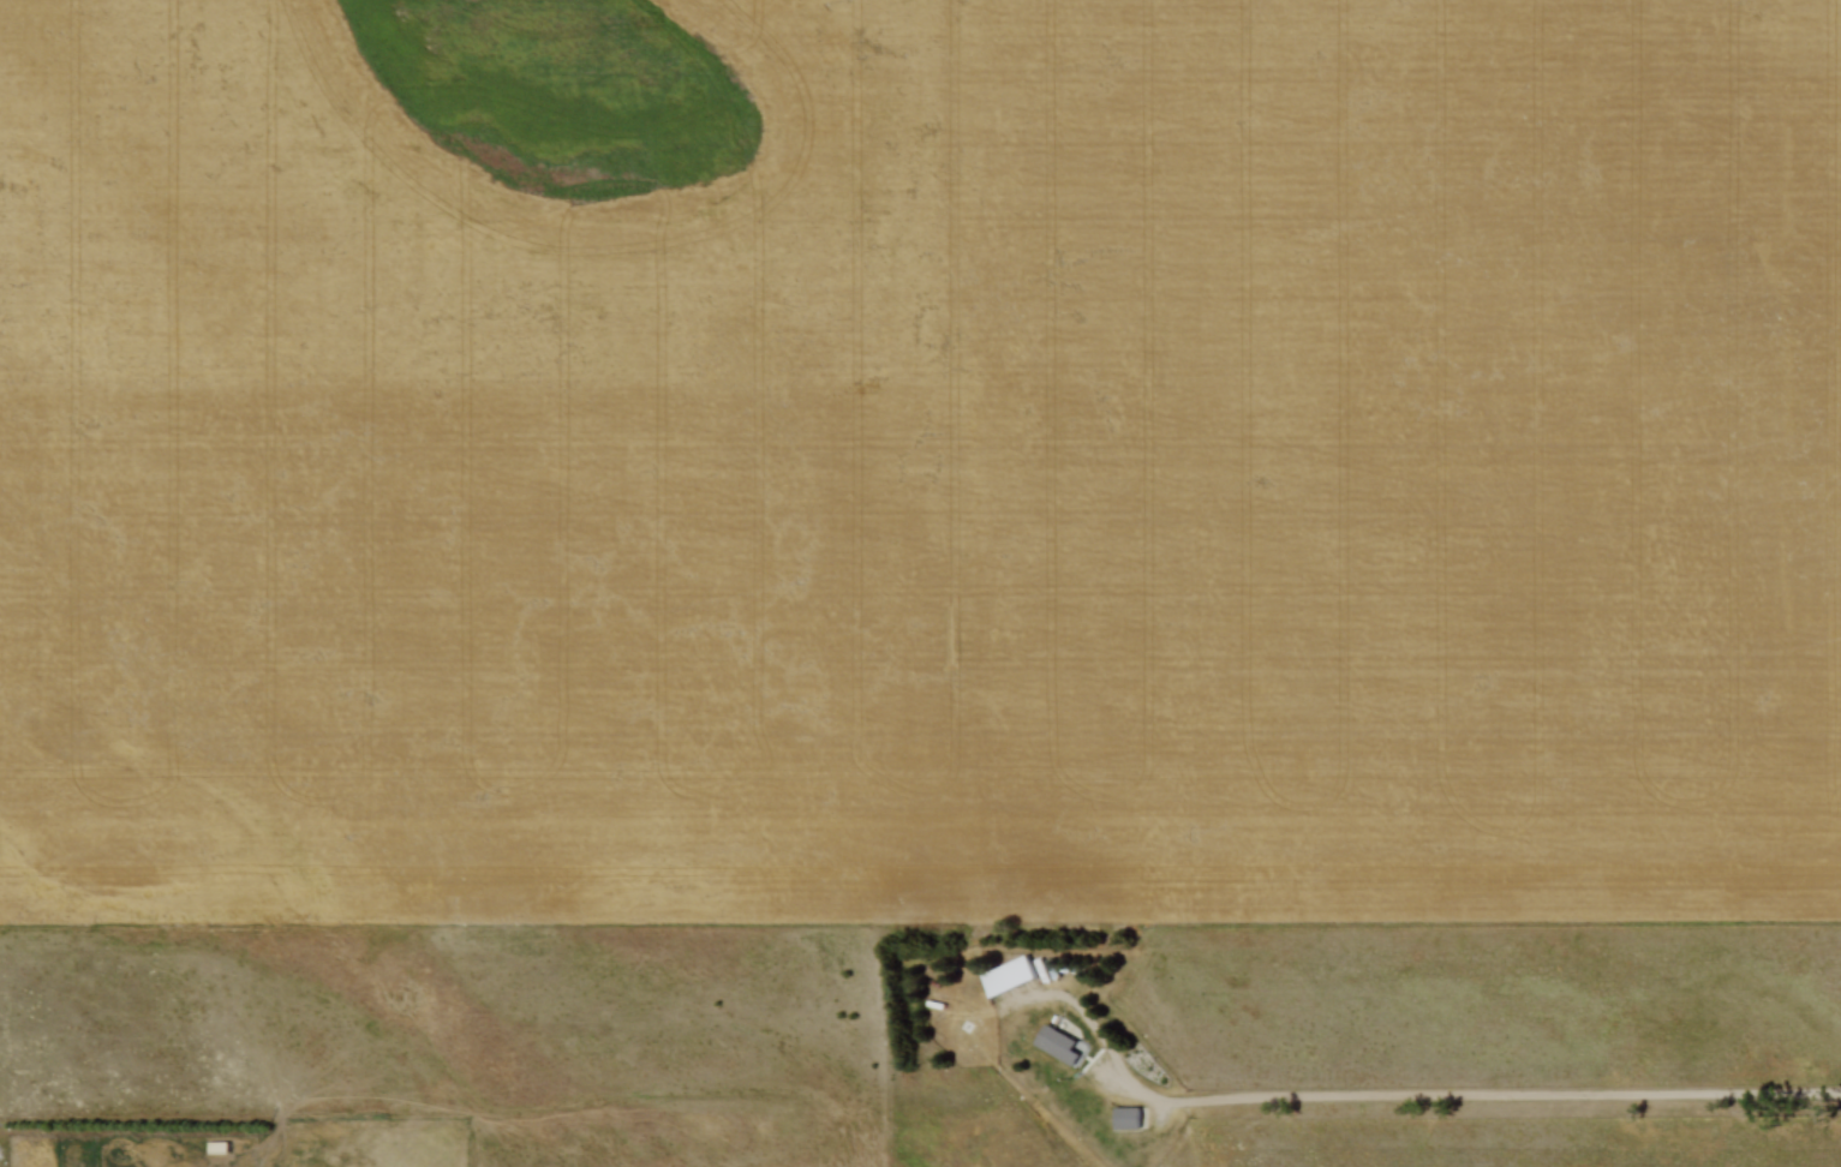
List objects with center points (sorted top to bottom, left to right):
building: (1009, 976)
road: (1471, 1093)
building: (1126, 1119)

